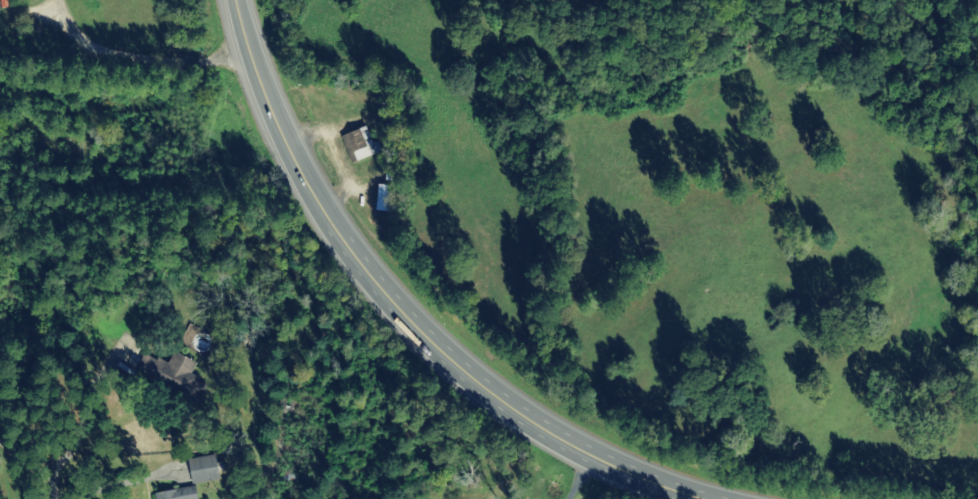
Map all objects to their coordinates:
road: (253, 45)
building: (356, 144)
road: (7, 258)
road: (462, 358)
building: (167, 375)
road: (15, 405)
building: (282, 406)
road: (202, 454)
building: (199, 469)
building: (172, 494)

